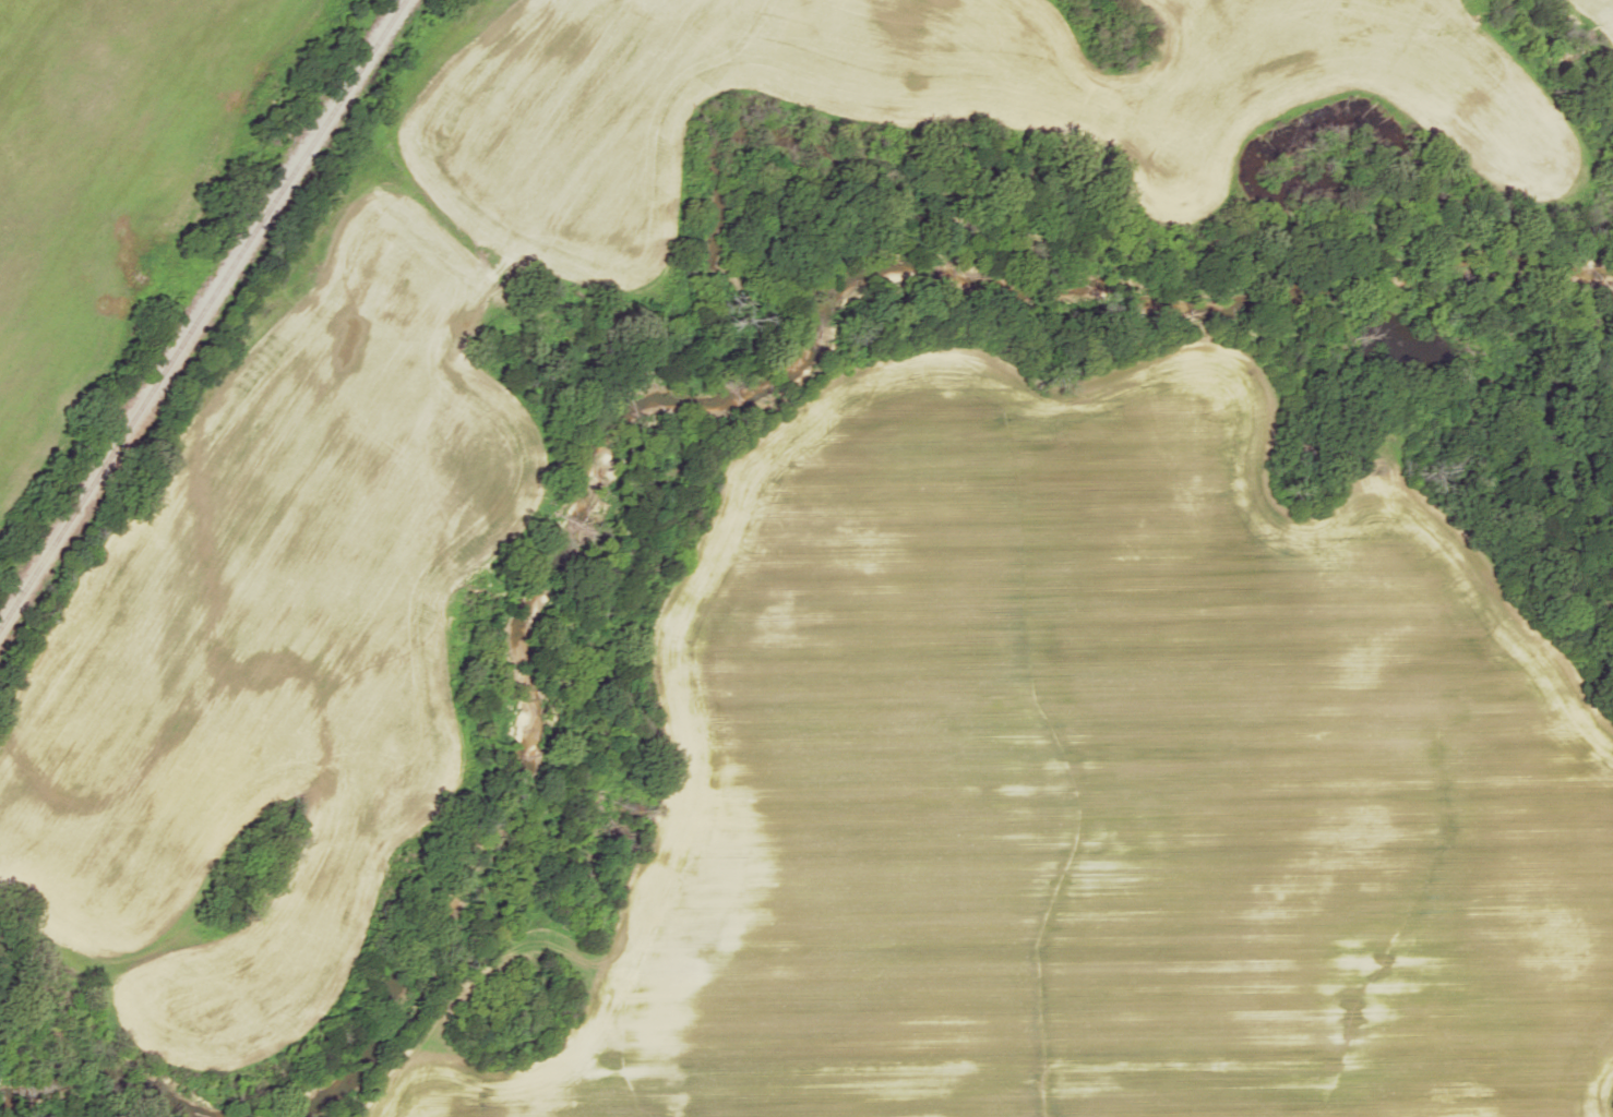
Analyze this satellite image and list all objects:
railway: (203, 310)
road: (236, 613)

